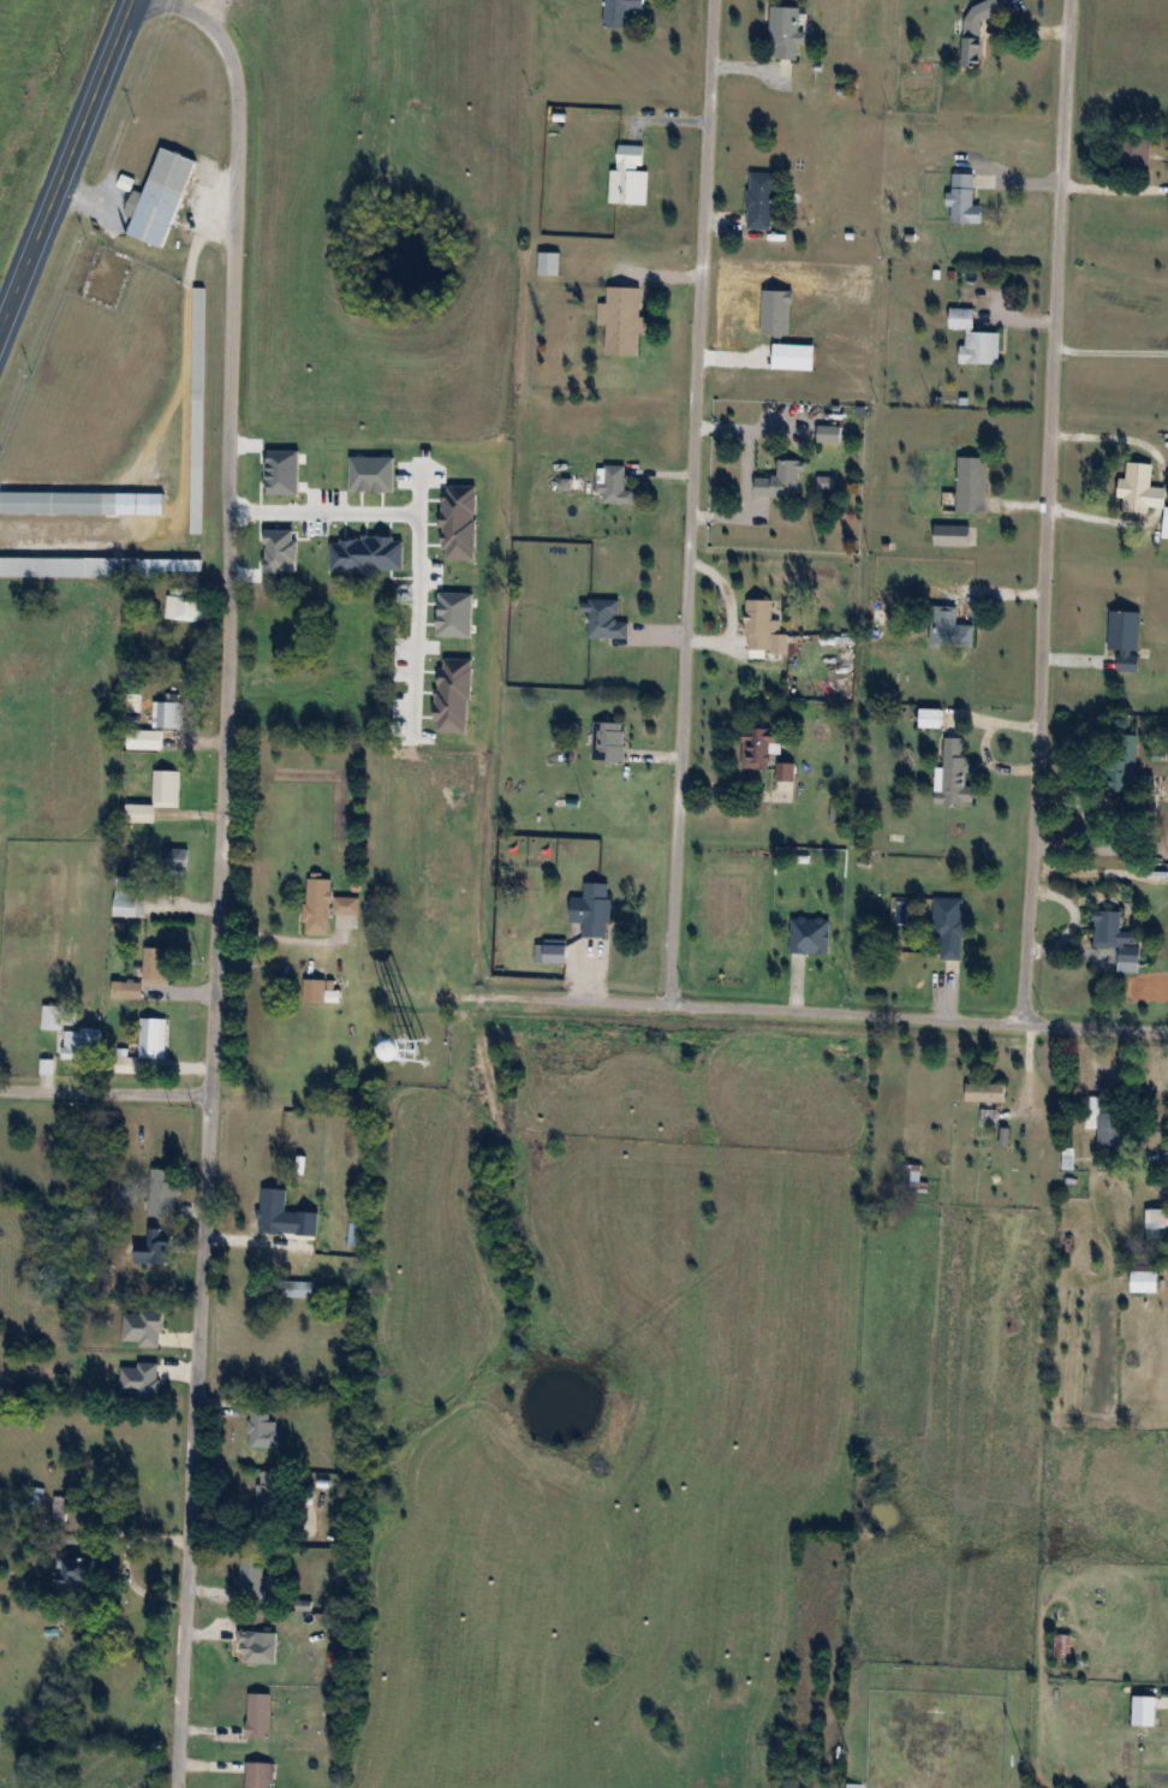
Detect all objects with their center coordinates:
building: (982, 11)
building: (621, 12)
building: (786, 31)
building: (973, 49)
building: (1134, 153)
road: (64, 160)
building: (630, 176)
road: (1114, 188)
building: (161, 196)
building: (965, 198)
building: (761, 200)
building: (549, 262)
building: (622, 319)
building: (976, 338)
road: (1112, 350)
road: (178, 356)
building: (197, 409)
building: (829, 433)
road: (746, 471)
building: (781, 480)
building: (972, 483)
road: (1154, 483)
building: (615, 485)
building: (1134, 494)
building: (59, 503)
road: (691, 503)
road: (1047, 511)
road: (413, 521)
building: (1166, 522)
building: (953, 534)
building: (101, 565)
road: (734, 606)
building: (184, 607)
building: (878, 611)
building: (606, 619)
building: (764, 628)
building: (949, 628)
building: (1126, 637)
building: (168, 714)
building: (931, 718)
building: (136, 739)
building: (609, 741)
building: (759, 747)
building: (1128, 768)
building: (786, 771)
building: (955, 773)
building: (12, 791)
building: (156, 797)
building: (177, 859)
road: (219, 879)
building: (130, 901)
building: (327, 910)
building: (597, 910)
building: (951, 928)
building: (810, 935)
building: (1118, 939)
building: (149, 972)
building: (315, 991)
road: (918, 1017)
building: (52, 1018)
building: (82, 1044)
building: (145, 1045)
road: (105, 1092)
building: (985, 1092)
building: (989, 1118)
building: (1106, 1122)
building: (912, 1178)
building: (165, 1188)
building: (273, 1211)
building: (1156, 1223)
building: (357, 1235)
building: (155, 1249)
building: (1145, 1278)
building: (297, 1288)
building: (155, 1320)
building: (108, 1338)
building: (263, 1427)
building: (272, 1493)
building: (34, 1499)
building: (60, 1508)
building: (78, 1575)
building: (250, 1578)
building: (1063, 1645)
building: (256, 1647)
building: (260, 1713)
building: (260, 1774)

